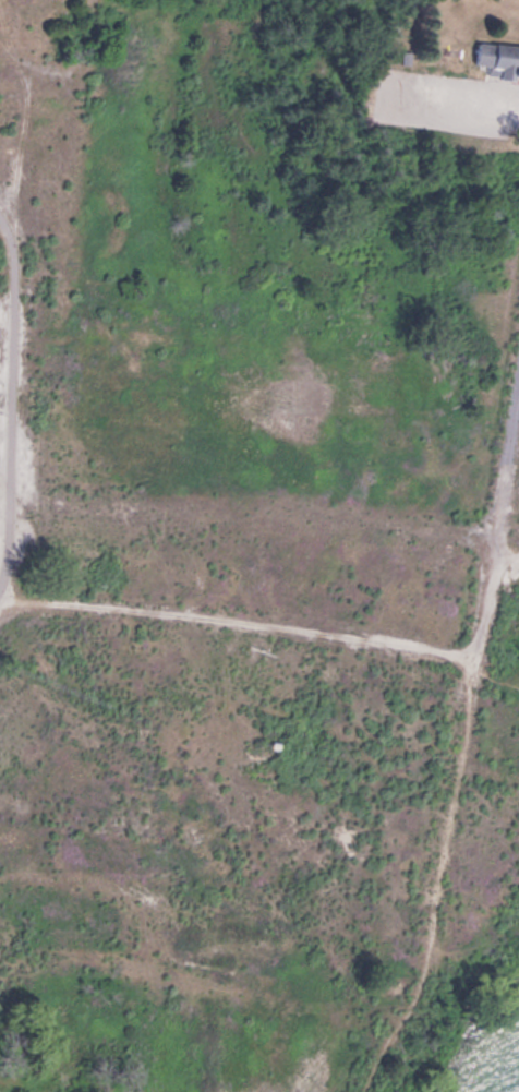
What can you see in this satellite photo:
building: (497, 57)
road: (9, 131)
road: (7, 412)
road: (498, 525)
road: (507, 554)
road: (236, 624)

